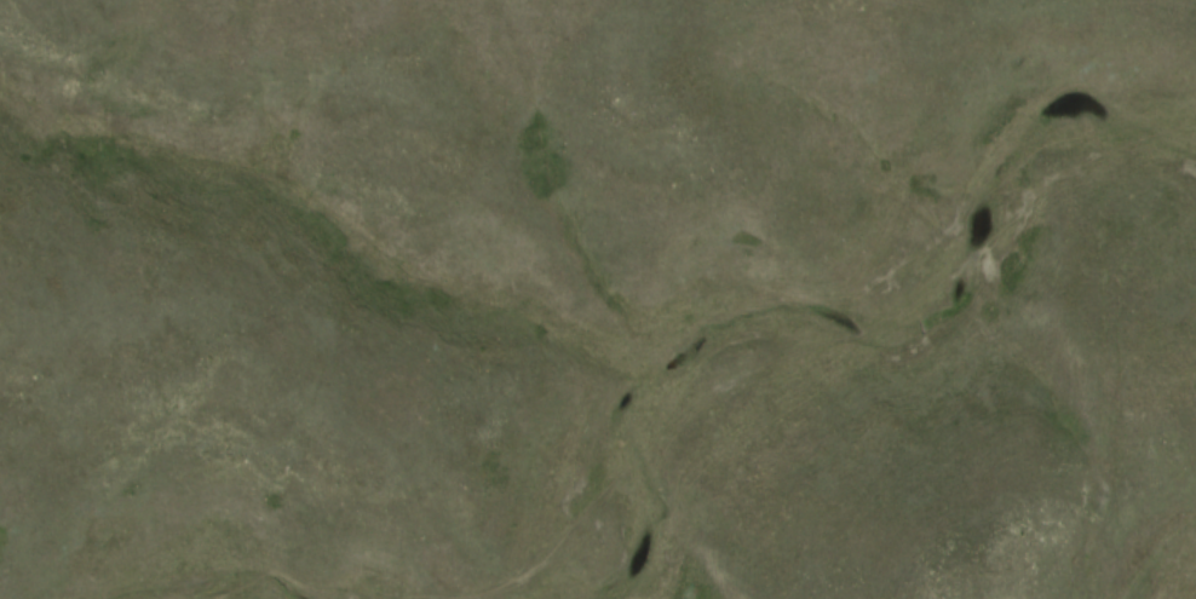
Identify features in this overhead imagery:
road: (1157, 570)

